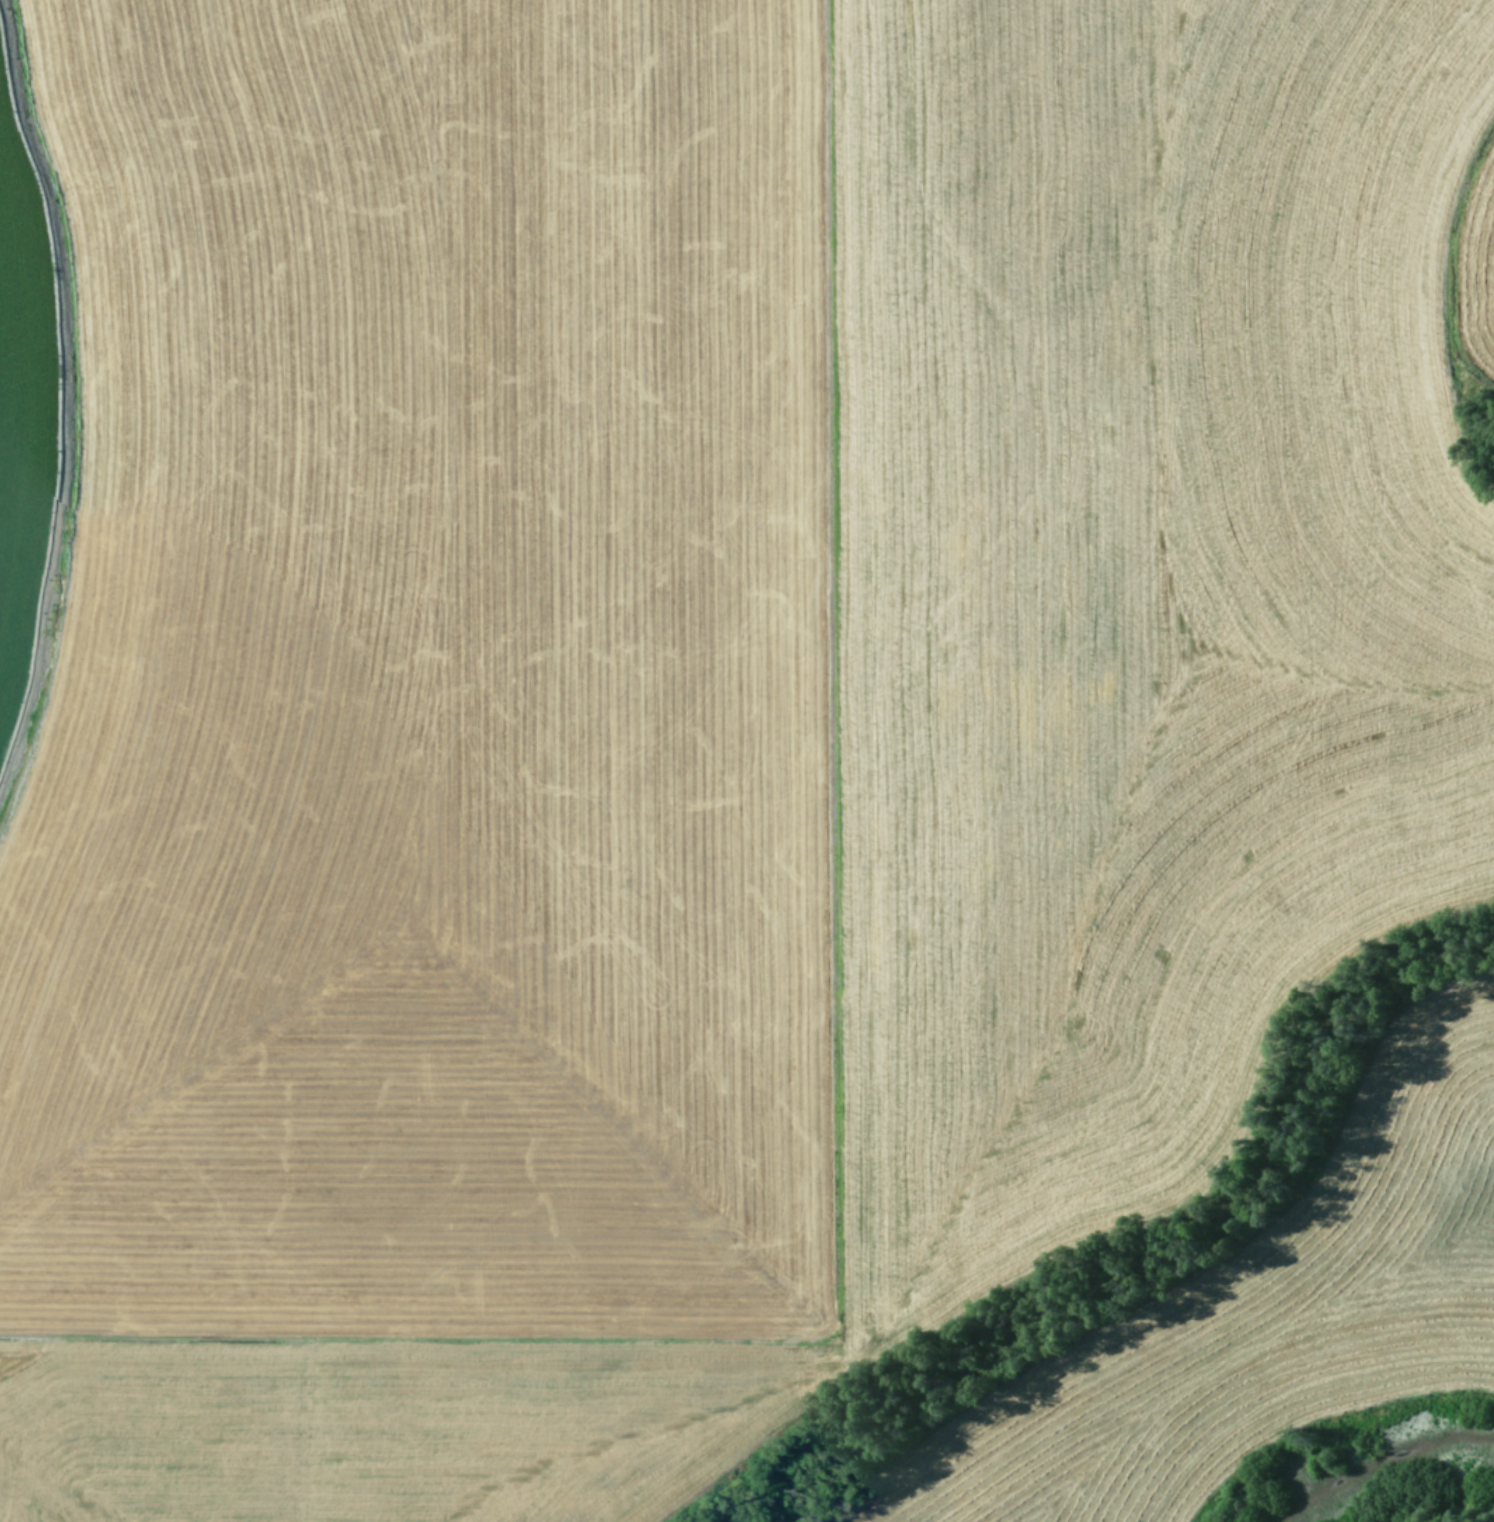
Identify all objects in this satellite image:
crop: (747, 761)

